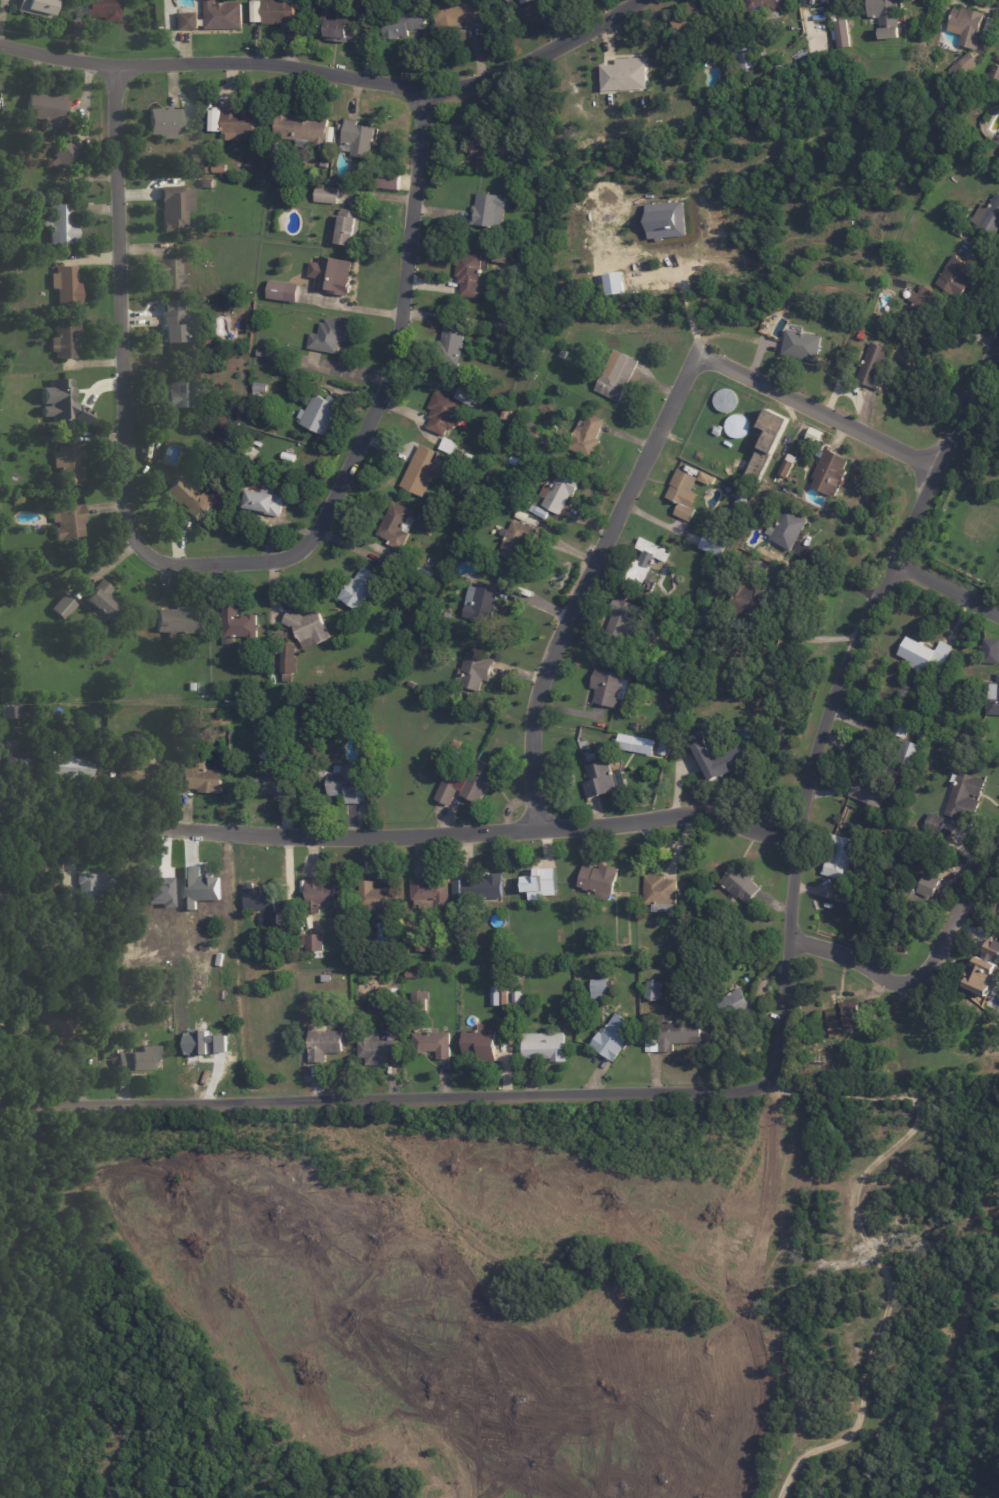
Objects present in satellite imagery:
building: (518, 0)
building: (513, 1)
building: (529, 1)
building: (760, 6)
building: (38, 7)
building: (105, 9)
building: (460, 12)
building: (885, 12)
building: (281, 13)
building: (222, 15)
building: (693, 20)
building: (187, 21)
building: (406, 24)
building: (338, 26)
building: (968, 26)
building: (835, 34)
building: (742, 43)
building: (764, 55)
building: (750, 59)
building: (998, 60)
building: (970, 61)
building: (620, 73)
road: (332, 74)
building: (994, 74)
building: (46, 107)
building: (216, 121)
building: (167, 123)
building: (239, 124)
building: (302, 129)
building: (358, 139)
building: (998, 142)
building: (489, 143)
building: (998, 153)
building: (65, 155)
building: (195, 159)
building: (324, 164)
building: (220, 168)
building: (948, 168)
building: (207, 170)
building: (326, 181)
building: (389, 181)
building: (208, 183)
building: (327, 194)
building: (177, 207)
building: (489, 209)
building: (989, 218)
building: (661, 219)
building: (62, 224)
building: (347, 227)
building: (957, 232)
building: (524, 246)
building: (501, 256)
building: (1, 266)
building: (471, 273)
building: (172, 275)
building: (332, 275)
building: (959, 277)
building: (610, 282)
building: (68, 287)
building: (284, 291)
building: (187, 299)
building: (511, 303)
road: (685, 303)
building: (926, 307)
building: (511, 318)
building: (177, 328)
building: (329, 337)
building: (67, 338)
building: (453, 338)
building: (802, 343)
building: (523, 352)
building: (262, 353)
building: (562, 355)
building: (494, 359)
road: (997, 360)
building: (875, 367)
building: (617, 374)
building: (259, 389)
building: (186, 392)
building: (468, 396)
building: (721, 399)
building: (57, 401)
road: (824, 409)
building: (443, 412)
building: (507, 413)
building: (320, 414)
building: (733, 425)
building: (531, 429)
building: (719, 429)
building: (230, 433)
building: (810, 434)
building: (587, 435)
building: (767, 442)
building: (448, 445)
building: (460, 452)
building: (250, 453)
building: (288, 457)
building: (467, 457)
building: (70, 458)
building: (788, 466)
building: (422, 470)
building: (831, 471)
building: (703, 477)
building: (16, 484)
building: (28, 485)
building: (472, 490)
building: (560, 490)
building: (683, 493)
building: (19, 497)
building: (191, 499)
building: (468, 499)
building: (493, 501)
building: (263, 503)
building: (742, 503)
building: (522, 515)
building: (70, 520)
building: (396, 524)
building: (789, 527)
building: (516, 539)
building: (709, 543)
building: (645, 561)
road: (215, 563)
building: (432, 564)
building: (426, 572)
road: (587, 578)
road: (841, 579)
building: (421, 583)
building: (363, 587)
building: (102, 600)
building: (482, 600)
building: (749, 600)
road: (946, 601)
building: (61, 608)
building: (437, 610)
building: (179, 620)
building: (624, 620)
building: (238, 623)
building: (740, 623)
building: (429, 625)
building: (308, 627)
building: (284, 635)
building: (990, 650)
building: (713, 652)
building: (921, 653)
building: (11, 655)
building: (273, 657)
building: (288, 661)
building: (664, 665)
building: (475, 670)
building: (189, 684)
building: (610, 687)
building: (924, 689)
building: (993, 697)
road: (831, 706)
building: (17, 710)
building: (41, 712)
building: (902, 727)
building: (780, 728)
building: (666, 732)
building: (254, 733)
building: (69, 736)
building: (81, 736)
building: (114, 740)
building: (44, 743)
building: (456, 744)
building: (637, 744)
building: (584, 745)
building: (663, 748)
building: (911, 753)
building: (591, 756)
building: (16, 757)
building: (721, 758)
building: (617, 762)
building: (71, 764)
building: (132, 771)
building: (202, 777)
building: (602, 779)
building: (276, 781)
building: (467, 781)
building: (347, 784)
building: (874, 785)
building: (964, 793)
building: (935, 823)
road: (399, 825)
building: (932, 848)
building: (840, 856)
building: (854, 876)
building: (600, 880)
building: (538, 881)
building: (742, 884)
building: (99, 885)
building: (196, 886)
building: (928, 886)
building: (479, 888)
building: (158, 889)
building: (41, 891)
building: (432, 893)
building: (661, 893)
building: (319, 894)
building: (378, 898)
building: (849, 899)
building: (997, 899)
building: (261, 904)
building: (998, 914)
building: (560, 936)
building: (313, 942)
building: (422, 944)
building: (595, 944)
building: (462, 945)
building: (272, 950)
building: (747, 962)
road: (922, 964)
building: (424, 970)
building: (431, 970)
building: (413, 974)
building: (977, 975)
building: (161, 976)
building: (326, 978)
building: (600, 985)
building: (655, 990)
building: (393, 991)
building: (500, 996)
building: (517, 999)
building: (420, 1001)
building: (736, 1005)
building: (58, 1018)
building: (845, 1020)
building: (674, 1033)
building: (615, 1038)
building: (971, 1039)
building: (6, 1041)
building: (199, 1041)
building: (324, 1043)
building: (481, 1043)
building: (432, 1044)
building: (544, 1047)
building: (378, 1049)
building: (140, 1058)
building: (941, 1061)
road: (387, 1101)

